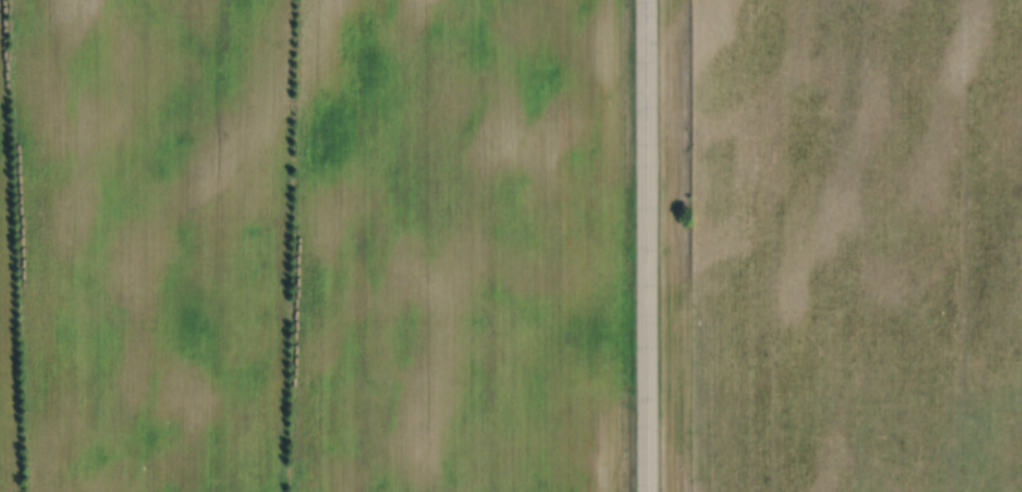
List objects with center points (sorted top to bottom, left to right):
road: (647, 246)

